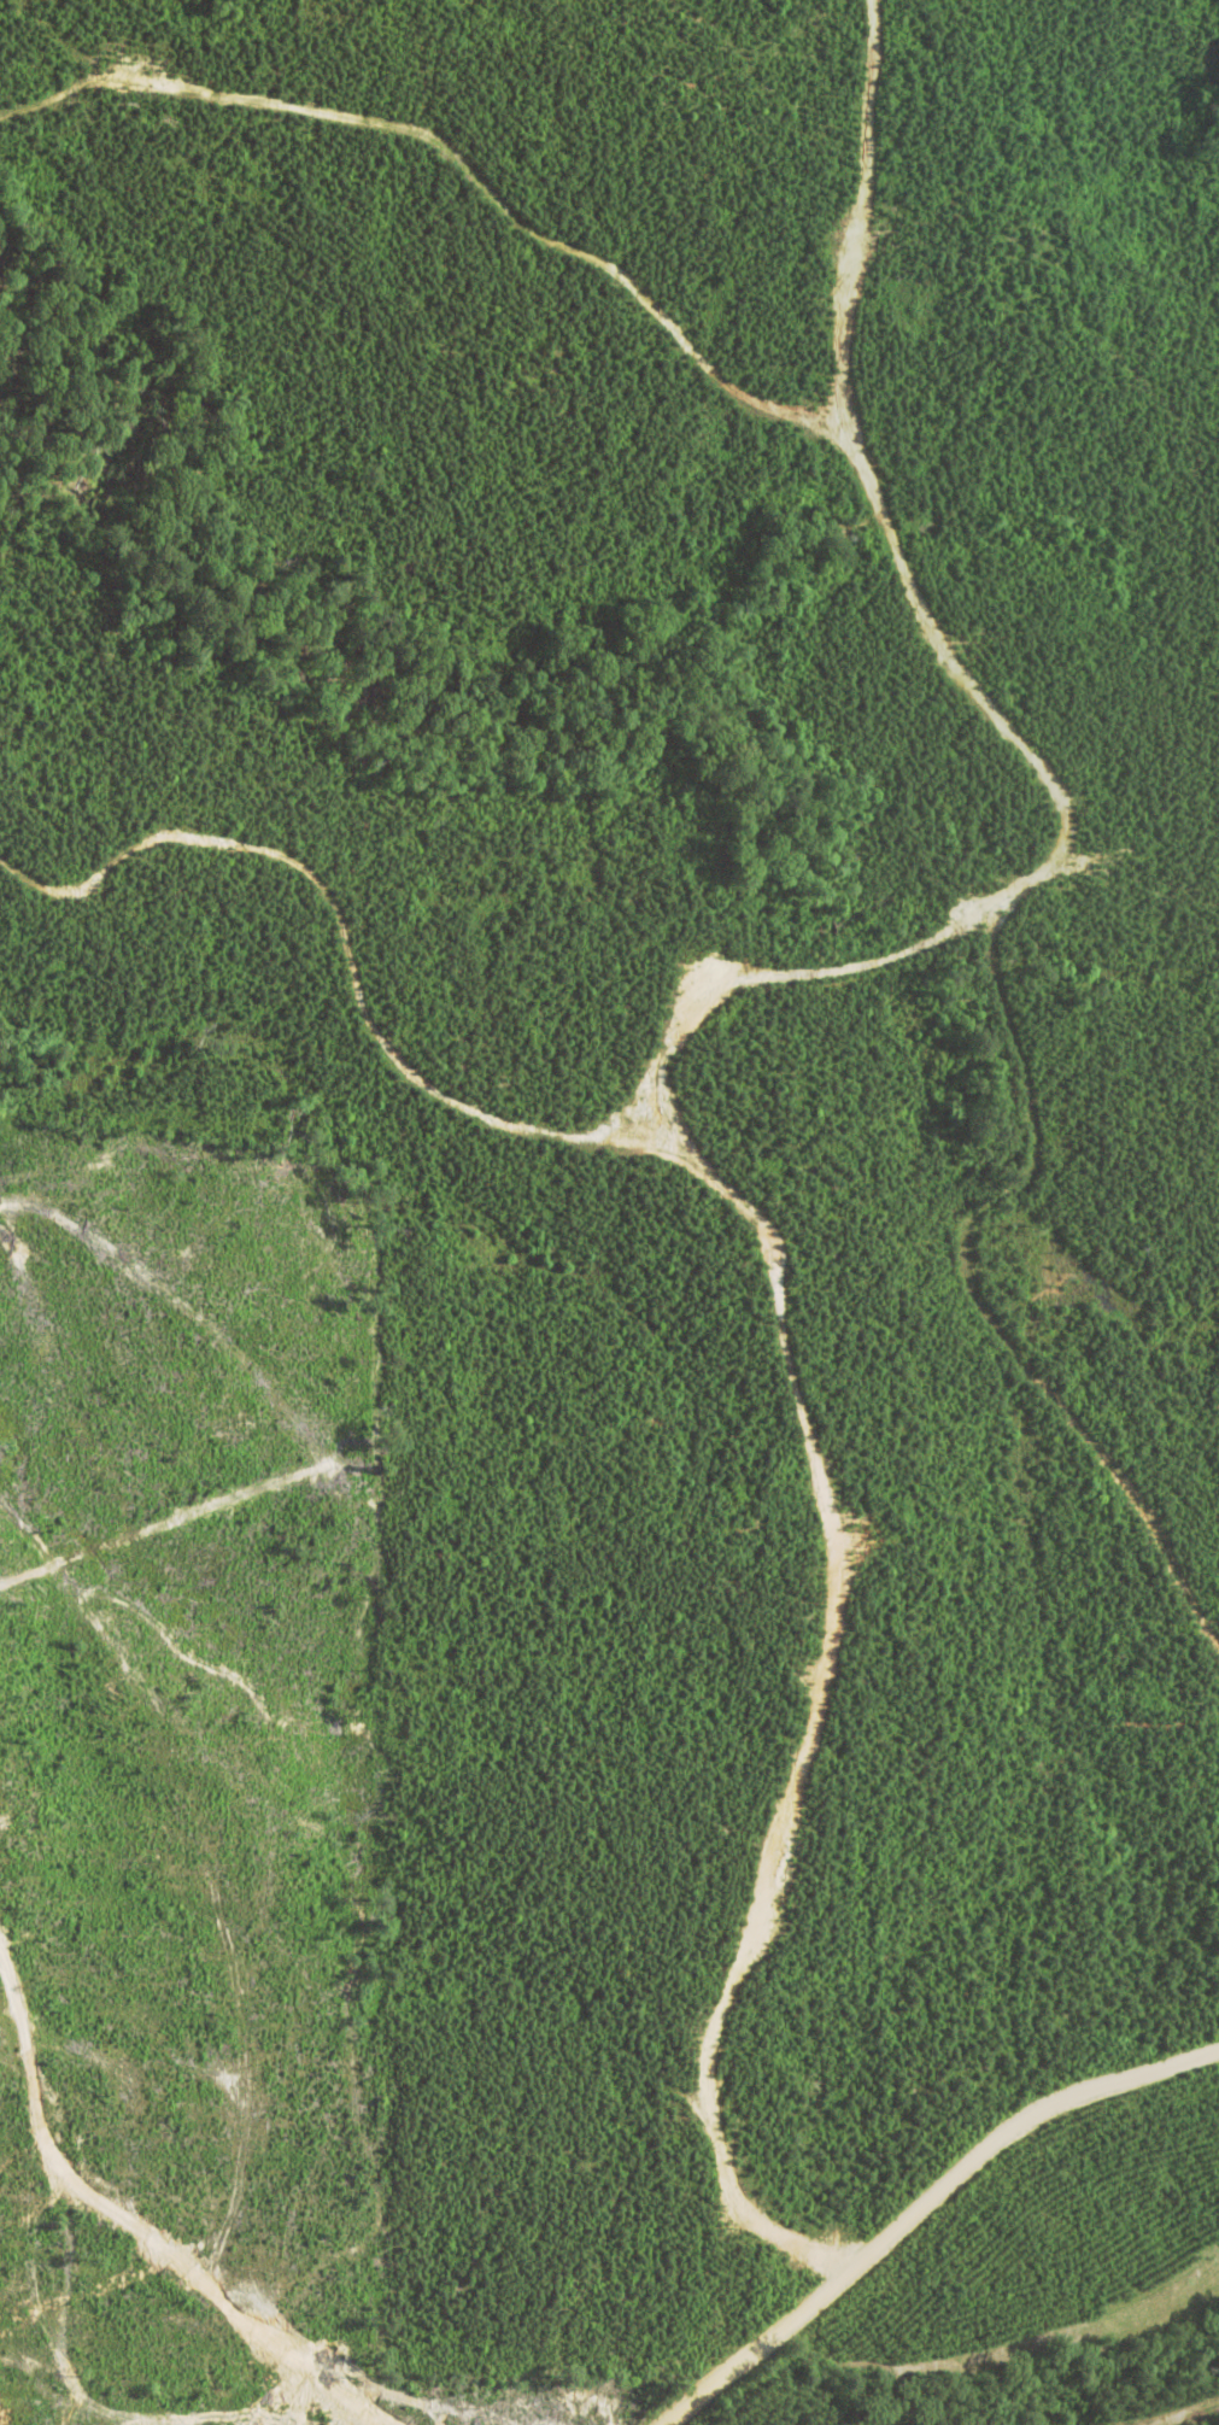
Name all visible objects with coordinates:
road: (921, 2197)

